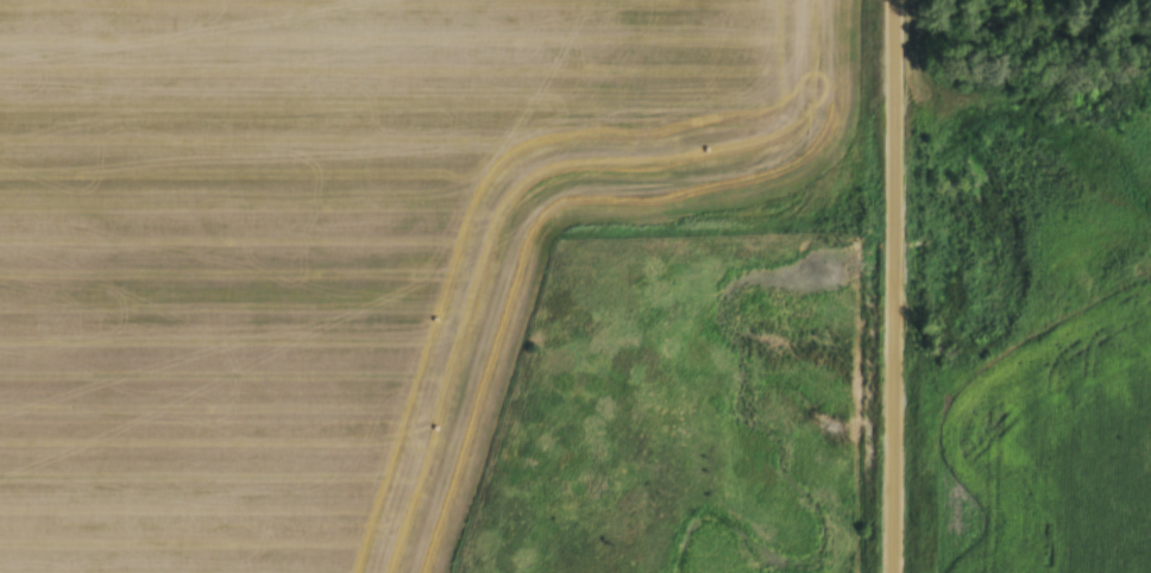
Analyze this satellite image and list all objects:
road: (892, 285)

